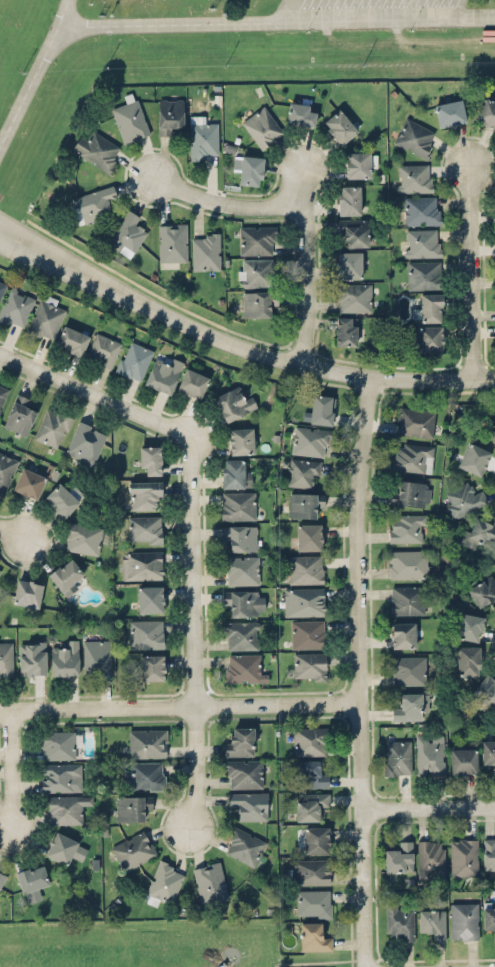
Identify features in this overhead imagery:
road: (282, 11)
road: (279, 21)
road: (38, 77)
building: (450, 113)
building: (486, 113)
building: (300, 114)
building: (170, 115)
building: (130, 121)
building: (340, 126)
building: (262, 127)
building: (203, 137)
building: (415, 137)
building: (97, 150)
building: (360, 164)
building: (249, 169)
building: (414, 178)
road: (226, 193)
building: (349, 200)
building: (421, 210)
building: (353, 231)
building: (127, 233)
building: (257, 239)
road: (42, 240)
building: (172, 242)
building: (422, 242)
road: (315, 250)
building: (205, 252)
road: (40, 257)
building: (348, 264)
road: (472, 269)
building: (255, 271)
building: (423, 274)
building: (2, 286)
building: (354, 296)
building: (257, 302)
building: (430, 306)
building: (15, 307)
building: (45, 317)
building: (345, 330)
building: (429, 337)
building: (72, 339)
building: (102, 349)
road: (280, 356)
building: (134, 359)
building: (163, 373)
building: (192, 382)
building: (2, 392)
road: (95, 393)
building: (233, 402)
building: (321, 408)
building: (19, 414)
building: (415, 421)
building: (53, 427)
building: (492, 432)
building: (240, 440)
building: (309, 440)
building: (85, 443)
building: (412, 456)
building: (474, 457)
building: (149, 459)
building: (6, 470)
building: (302, 472)
building: (234, 473)
building: (28, 482)
building: (144, 493)
building: (410, 493)
building: (62, 497)
building: (462, 498)
building: (304, 503)
building: (237, 504)
building: (408, 527)
building: (144, 528)
road: (12, 532)
building: (480, 532)
building: (239, 536)
building: (309, 536)
building: (83, 538)
building: (407, 563)
building: (140, 564)
building: (0, 568)
building: (305, 568)
building: (242, 569)
road: (193, 570)
building: (65, 575)
building: (483, 591)
building: (27, 592)
building: (149, 598)
building: (406, 599)
building: (242, 601)
building: (303, 601)
building: (468, 626)
building: (146, 633)
building: (307, 633)
building: (240, 634)
building: (402, 634)
building: (97, 656)
building: (6, 658)
building: (32, 658)
building: (64, 658)
building: (467, 660)
building: (308, 664)
building: (151, 666)
building: (243, 667)
building: (407, 669)
road: (360, 670)
building: (486, 689)
road: (180, 704)
building: (410, 705)
building: (309, 740)
building: (240, 741)
building: (147, 742)
building: (59, 744)
building: (488, 752)
building: (429, 753)
building: (397, 756)
building: (462, 760)
road: (194, 766)
road: (10, 769)
building: (243, 773)
building: (310, 773)
building: (143, 775)
building: (60, 776)
building: (248, 804)
building: (309, 805)
building: (131, 806)
road: (427, 807)
building: (65, 808)
building: (316, 839)
building: (243, 845)
building: (64, 847)
building: (132, 850)
building: (488, 853)
building: (399, 856)
building: (464, 856)
building: (431, 858)
building: (308, 870)
building: (2, 877)
building: (32, 881)
building: (210, 881)
building: (163, 883)
building: (313, 902)
building: (488, 917)
building: (399, 920)
building: (464, 920)
building: (432, 923)
building: (314, 936)
park: (203, 950)
park: (61, 951)

